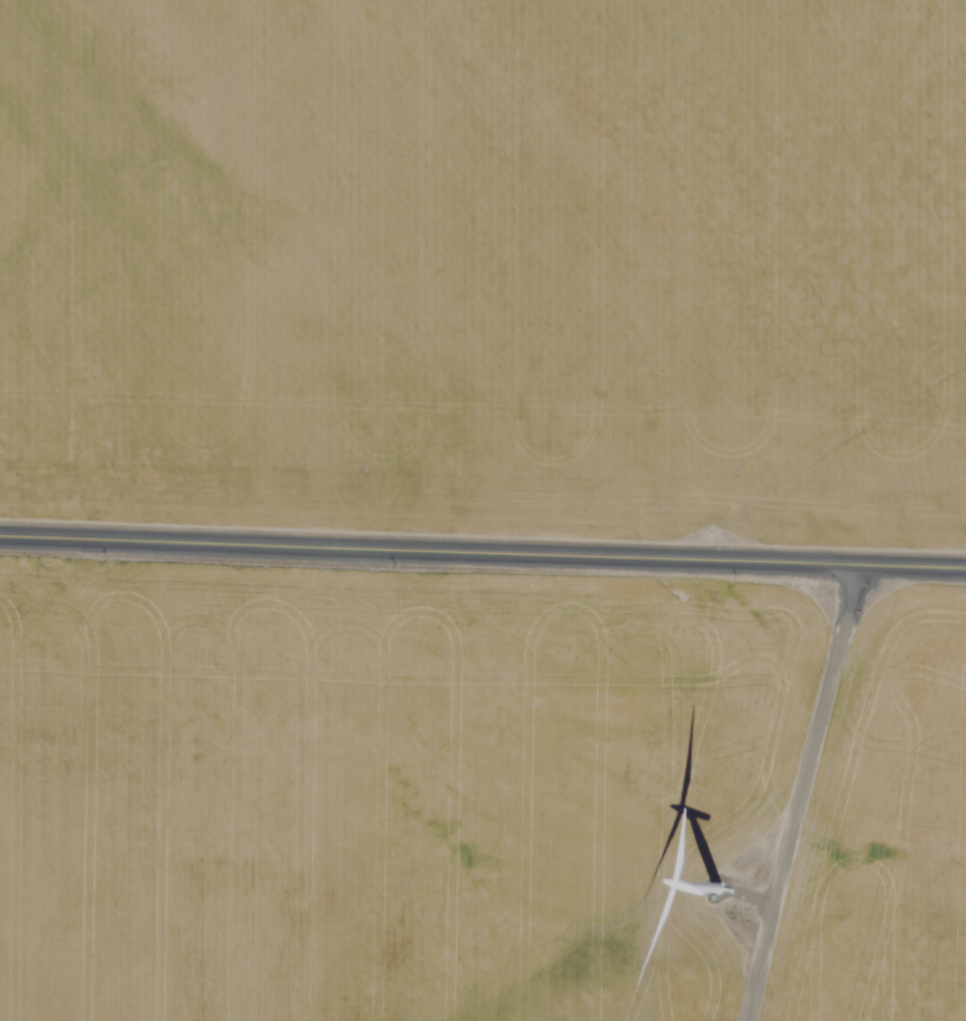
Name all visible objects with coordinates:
road: (482, 540)
road: (793, 788)
wind turbine: (721, 884)

